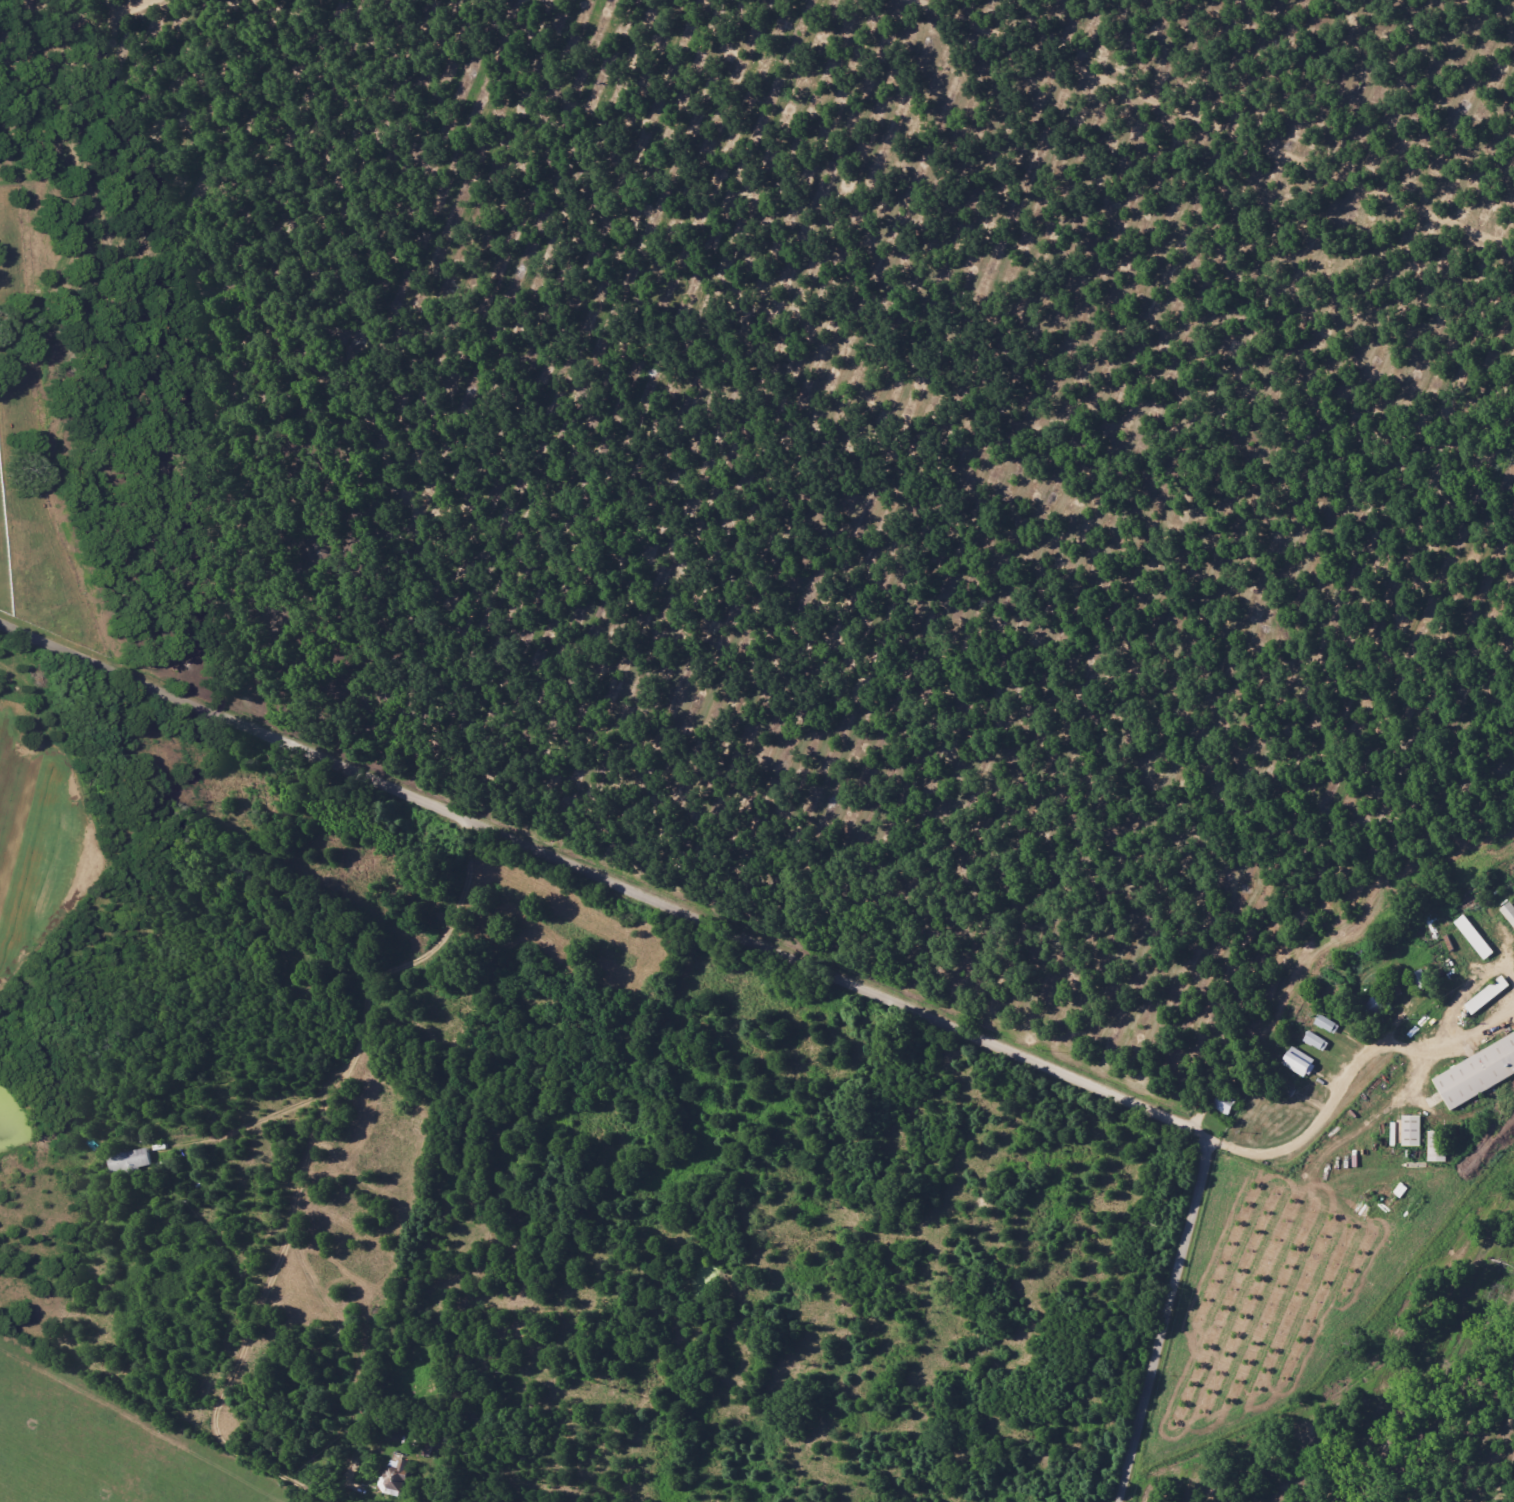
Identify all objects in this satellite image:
road: (74, 32)
road: (1210, 125)
building: (1475, 936)
road: (774, 952)
building: (1488, 994)
building: (1315, 1040)
building: (1299, 1062)
building: (1478, 1072)
road: (1348, 1078)
road: (259, 1122)
building: (1413, 1129)
building: (1438, 1145)
building: (129, 1160)
road: (304, 1161)
road: (140, 1426)

